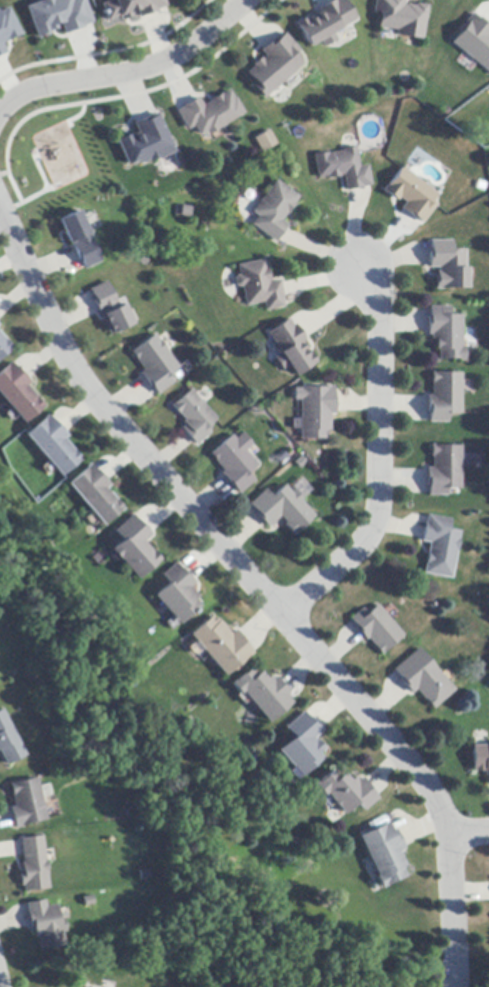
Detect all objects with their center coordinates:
building: (131, 8)
building: (56, 15)
building: (401, 18)
building: (326, 23)
building: (5, 27)
building: (473, 39)
building: (1, 49)
building: (274, 65)
road: (131, 75)
building: (209, 113)
building: (145, 139)
building: (265, 141)
building: (343, 169)
building: (412, 195)
building: (274, 211)
building: (80, 239)
building: (448, 265)
building: (259, 286)
building: (111, 309)
building: (446, 334)
building: (4, 347)
building: (291, 348)
building: (155, 364)
building: (18, 393)
building: (444, 396)
building: (314, 412)
building: (194, 417)
building: (52, 445)
building: (235, 462)
road: (379, 462)
building: (444, 470)
building: (94, 494)
building: (282, 509)
building: (133, 547)
building: (439, 547)
road: (258, 588)
building: (177, 594)
building: (376, 628)
building: (220, 646)
building: (423, 679)
building: (262, 694)
building: (9, 742)
building: (302, 744)
building: (481, 759)
building: (346, 792)
building: (29, 803)
road: (468, 833)
building: (384, 854)
building: (34, 865)
building: (47, 926)

